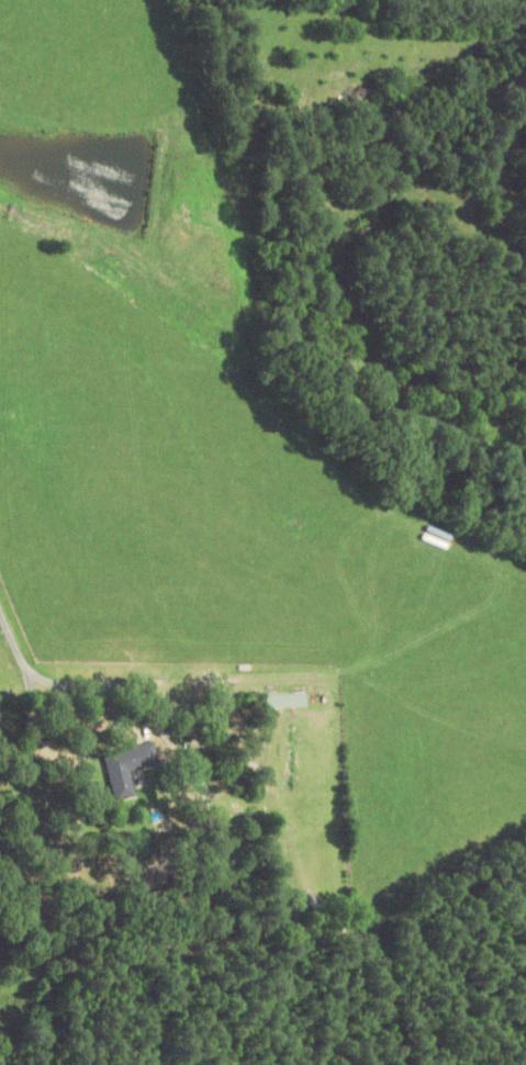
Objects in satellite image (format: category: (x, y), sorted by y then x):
building: (287, 700)
building: (317, 718)
building: (128, 767)

